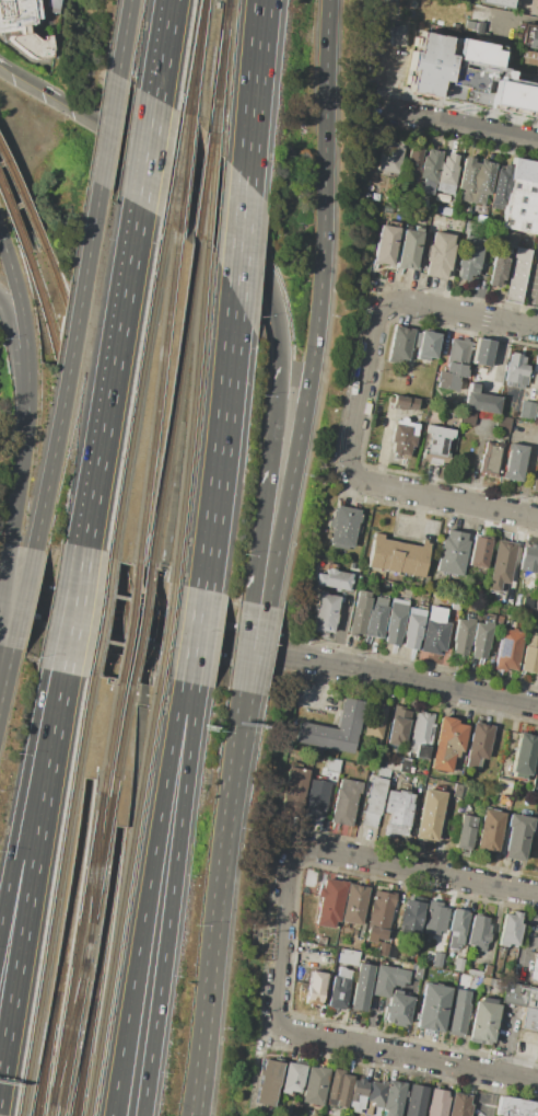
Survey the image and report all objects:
building: (377, 0)
building: (496, 2)
building: (412, 3)
building: (537, 3)
road: (528, 9)
railway: (226, 13)
building: (410, 13)
building: (23, 26)
building: (473, 26)
building: (388, 34)
road: (122, 37)
building: (531, 39)
building: (472, 41)
road: (161, 48)
building: (537, 50)
railway: (194, 57)
railway: (197, 57)
building: (529, 58)
building: (429, 64)
road: (388, 82)
railway: (218, 84)
railway: (220, 87)
building: (495, 90)
road: (253, 91)
road: (463, 126)
road: (107, 129)
road: (145, 143)
road: (145, 151)
building: (389, 158)
building: (413, 164)
railway: (176, 166)
building: (430, 170)
railway: (184, 173)
building: (446, 174)
building: (475, 180)
building: (500, 185)
railway: (203, 188)
railway: (23, 195)
railway: (211, 196)
building: (521, 200)
railway: (12, 220)
building: (507, 239)
road: (239, 240)
building: (385, 245)
building: (408, 249)
building: (438, 254)
building: (469, 257)
building: (496, 265)
railway: (55, 272)
building: (516, 274)
railway: (42, 301)
road: (317, 304)
road: (276, 309)
road: (455, 312)
road: (535, 313)
road: (22, 320)
building: (398, 344)
building: (426, 345)
building: (457, 352)
building: (482, 352)
road: (68, 367)
road: (19, 369)
building: (455, 369)
building: (516, 371)
road: (109, 376)
building: (446, 381)
building: (472, 387)
railway: (139, 390)
building: (530, 393)
building: (537, 394)
railway: (157, 399)
railway: (174, 402)
building: (405, 402)
building: (481, 403)
building: (527, 410)
railway: (194, 414)
building: (536, 414)
building: (468, 417)
building: (502, 424)
building: (437, 439)
building: (400, 440)
road: (221, 444)
road: (534, 448)
building: (491, 459)
building: (515, 462)
road: (527, 463)
road: (266, 481)
road: (366, 482)
building: (535, 482)
road: (15, 493)
road: (419, 516)
building: (344, 526)
building: (479, 552)
building: (452, 553)
building: (398, 556)
building: (529, 559)
building: (501, 565)
road: (4, 573)
building: (537, 578)
building: (337, 579)
road: (23, 598)
building: (512, 599)
building: (379, 601)
building: (526, 602)
building: (456, 605)
building: (534, 605)
road: (71, 609)
building: (358, 612)
building: (325, 613)
building: (436, 613)
railway: (101, 618)
railway: (93, 619)
building: (499, 620)
building: (375, 621)
railway: (128, 623)
building: (394, 623)
railway: (128, 624)
railway: (139, 626)
building: (412, 628)
road: (162, 629)
railway: (166, 631)
road: (196, 635)
building: (463, 635)
building: (434, 636)
building: (480, 640)
building: (531, 641)
road: (244, 646)
road: (259, 649)
building: (508, 649)
building: (529, 660)
road: (5, 666)
building: (537, 676)
road: (431, 683)
road: (319, 684)
building: (374, 720)
building: (398, 726)
building: (334, 728)
building: (421, 735)
building: (447, 743)
building: (478, 744)
building: (292, 752)
road: (233, 753)
road: (241, 755)
building: (523, 755)
road: (36, 767)
building: (295, 791)
building: (460, 791)
building: (316, 798)
building: (346, 801)
building: (373, 802)
building: (397, 807)
building: (430, 815)
building: (490, 830)
building: (466, 832)
building: (516, 836)
railway: (95, 867)
road: (32, 873)
road: (428, 874)
railway: (75, 887)
road: (5, 893)
railway: (56, 896)
railway: (124, 897)
road: (145, 898)
railway: (84, 899)
road: (169, 899)
railway: (95, 900)
building: (330, 902)
building: (354, 904)
building: (381, 909)
railway: (108, 914)
building: (411, 914)
building: (434, 919)
building: (457, 925)
road: (218, 927)
building: (508, 929)
building: (478, 932)
building: (374, 934)
building: (320, 940)
building: (441, 944)
road: (524, 945)
building: (383, 950)
building: (326, 952)
building: (348, 956)
building: (458, 964)
building: (487, 970)
building: (344, 973)
building: (475, 973)
building: (537, 975)
building: (387, 979)
building: (361, 987)
building: (315, 988)
building: (338, 992)
building: (521, 994)
building: (460, 997)
building: (432, 1006)
building: (398, 1009)
building: (457, 1017)
building: (529, 1020)
building: (483, 1021)
railway: (68, 1035)
road: (315, 1036)
railway: (47, 1055)
railway: (48, 1055)
railway: (84, 1058)
railway: (86, 1058)
road: (198, 1077)
road: (203, 1077)
building: (292, 1078)
building: (268, 1082)
building: (335, 1084)
building: (315, 1085)
building: (344, 1091)
building: (375, 1093)
building: (358, 1094)
road: (489, 1094)
building: (393, 1098)
building: (414, 1101)
building: (437, 1103)
building: (459, 1104)
building: (515, 1107)
building: (376, 1112)

